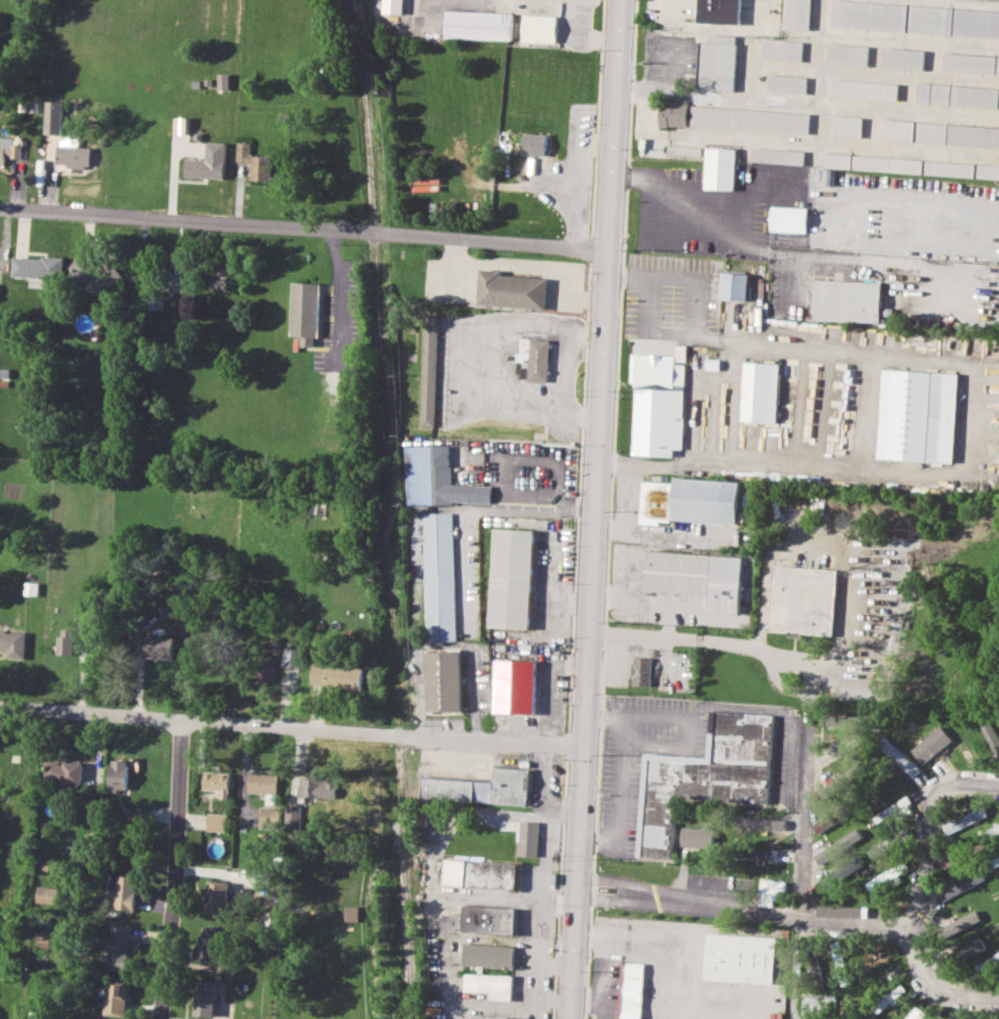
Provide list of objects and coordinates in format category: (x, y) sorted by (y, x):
building: (393, 6)
building: (721, 11)
building: (797, 14)
building: (915, 18)
building: (479, 25)
road: (723, 27)
building: (540, 28)
building: (782, 50)
building: (848, 54)
building: (904, 58)
building: (971, 62)
building: (718, 63)
building: (223, 81)
building: (787, 83)
building: (864, 89)
building: (958, 95)
building: (674, 113)
building: (53, 117)
building: (750, 119)
building: (848, 126)
building: (939, 133)
building: (535, 143)
building: (72, 153)
building: (778, 155)
building: (207, 162)
building: (254, 162)
building: (911, 166)
building: (720, 168)
building: (789, 219)
road: (750, 223)
road: (308, 231)
road: (851, 258)
building: (37, 269)
building: (94, 274)
building: (177, 275)
building: (736, 286)
building: (511, 289)
road: (338, 298)
building: (848, 300)
building: (155, 301)
building: (304, 312)
building: (535, 361)
road: (459, 363)
road: (566, 368)
building: (432, 372)
building: (761, 392)
road: (970, 398)
building: (658, 405)
building: (918, 415)
building: (438, 480)
road: (549, 494)
building: (690, 501)
road: (624, 507)
railway: (389, 509)
road: (603, 509)
road: (831, 551)
building: (697, 577)
building: (440, 578)
building: (512, 578)
building: (802, 599)
building: (176, 604)
building: (0, 629)
road: (655, 637)
building: (64, 641)
building: (12, 643)
building: (159, 647)
building: (292, 657)
building: (266, 668)
building: (641, 671)
building: (336, 675)
building: (444, 682)
road: (811, 682)
road: (778, 683)
building: (517, 686)
road: (294, 733)
building: (990, 733)
building: (899, 756)
building: (63, 771)
building: (118, 774)
building: (705, 776)
road: (623, 777)
building: (217, 782)
building: (263, 783)
building: (317, 787)
building: (484, 789)
road: (807, 806)
building: (896, 808)
building: (292, 816)
building: (269, 817)
road: (929, 818)
building: (964, 820)
building: (216, 822)
building: (993, 830)
building: (697, 836)
building: (529, 839)
building: (877, 851)
building: (758, 853)
building: (950, 860)
road: (177, 872)
building: (839, 873)
building: (481, 875)
building: (880, 879)
building: (961, 885)
building: (124, 891)
building: (771, 891)
building: (48, 894)
building: (217, 897)
road: (754, 904)
building: (352, 913)
building: (482, 920)
building: (961, 922)
building: (212, 943)
building: (119, 946)
building: (972, 949)
building: (740, 957)
building: (988, 963)
building: (489, 971)
road: (933, 982)
building: (632, 990)
building: (116, 997)
building: (205, 997)
building: (813, 1004)
building: (488, 1017)

